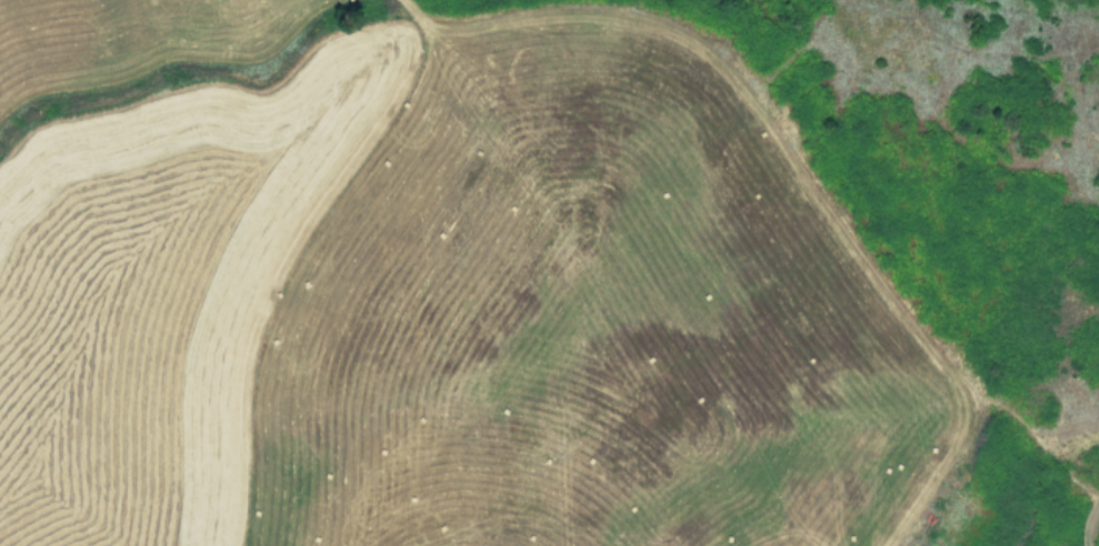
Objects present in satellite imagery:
crop: (549, 273)

